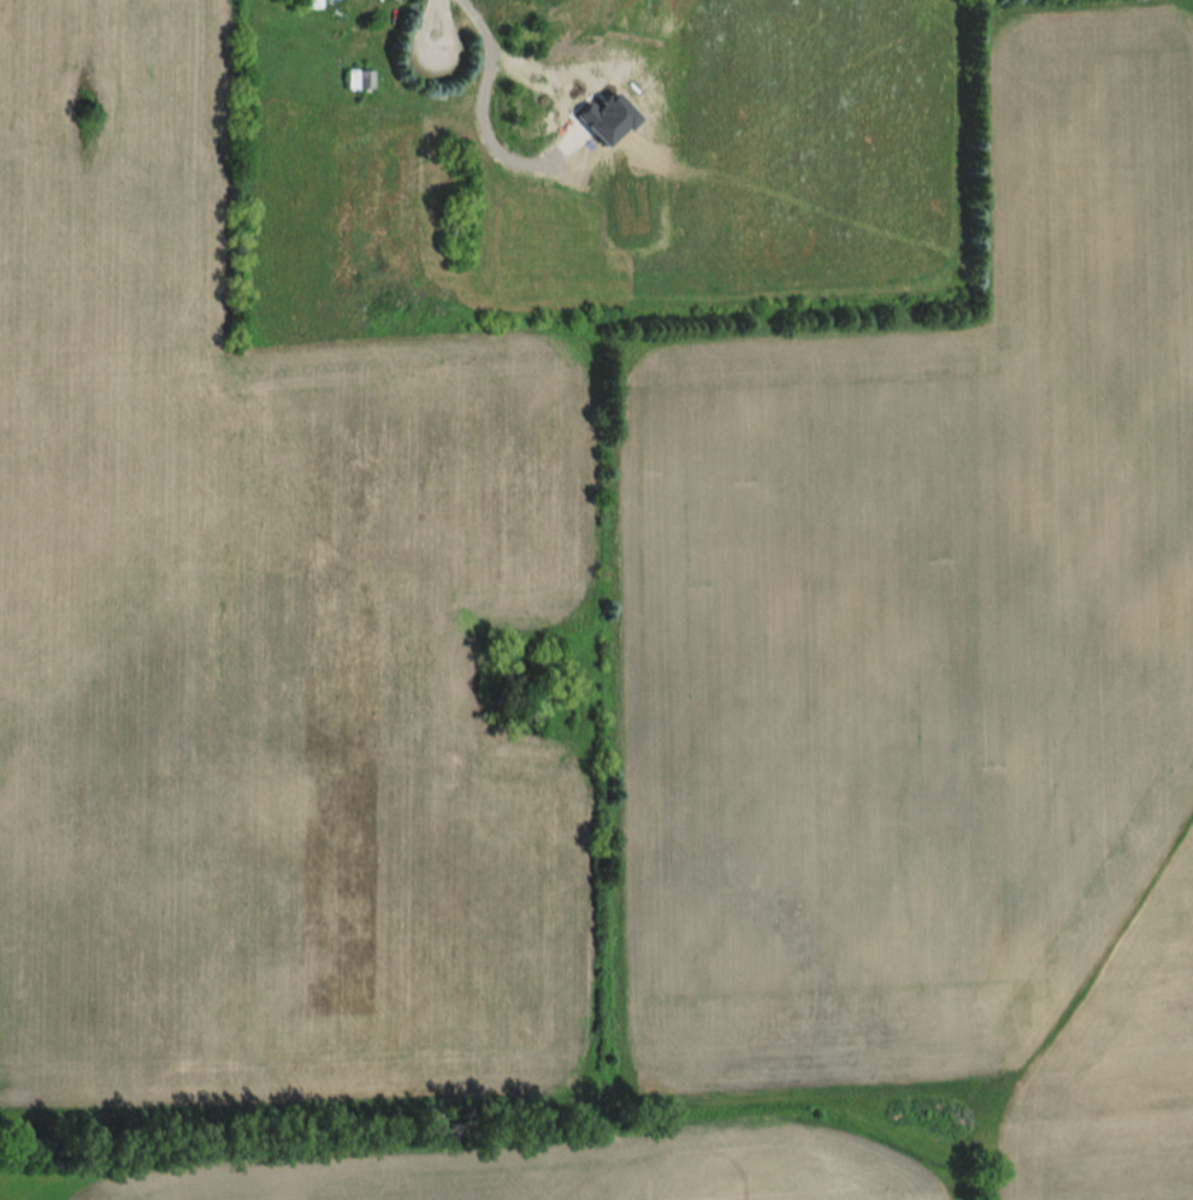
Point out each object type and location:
building: (309, 4)
building: (508, 13)
road: (429, 41)
building: (528, 101)
crop: (740, 162)
crop: (923, 617)
crop: (260, 636)
crop: (1118, 1070)
crop: (568, 1171)

